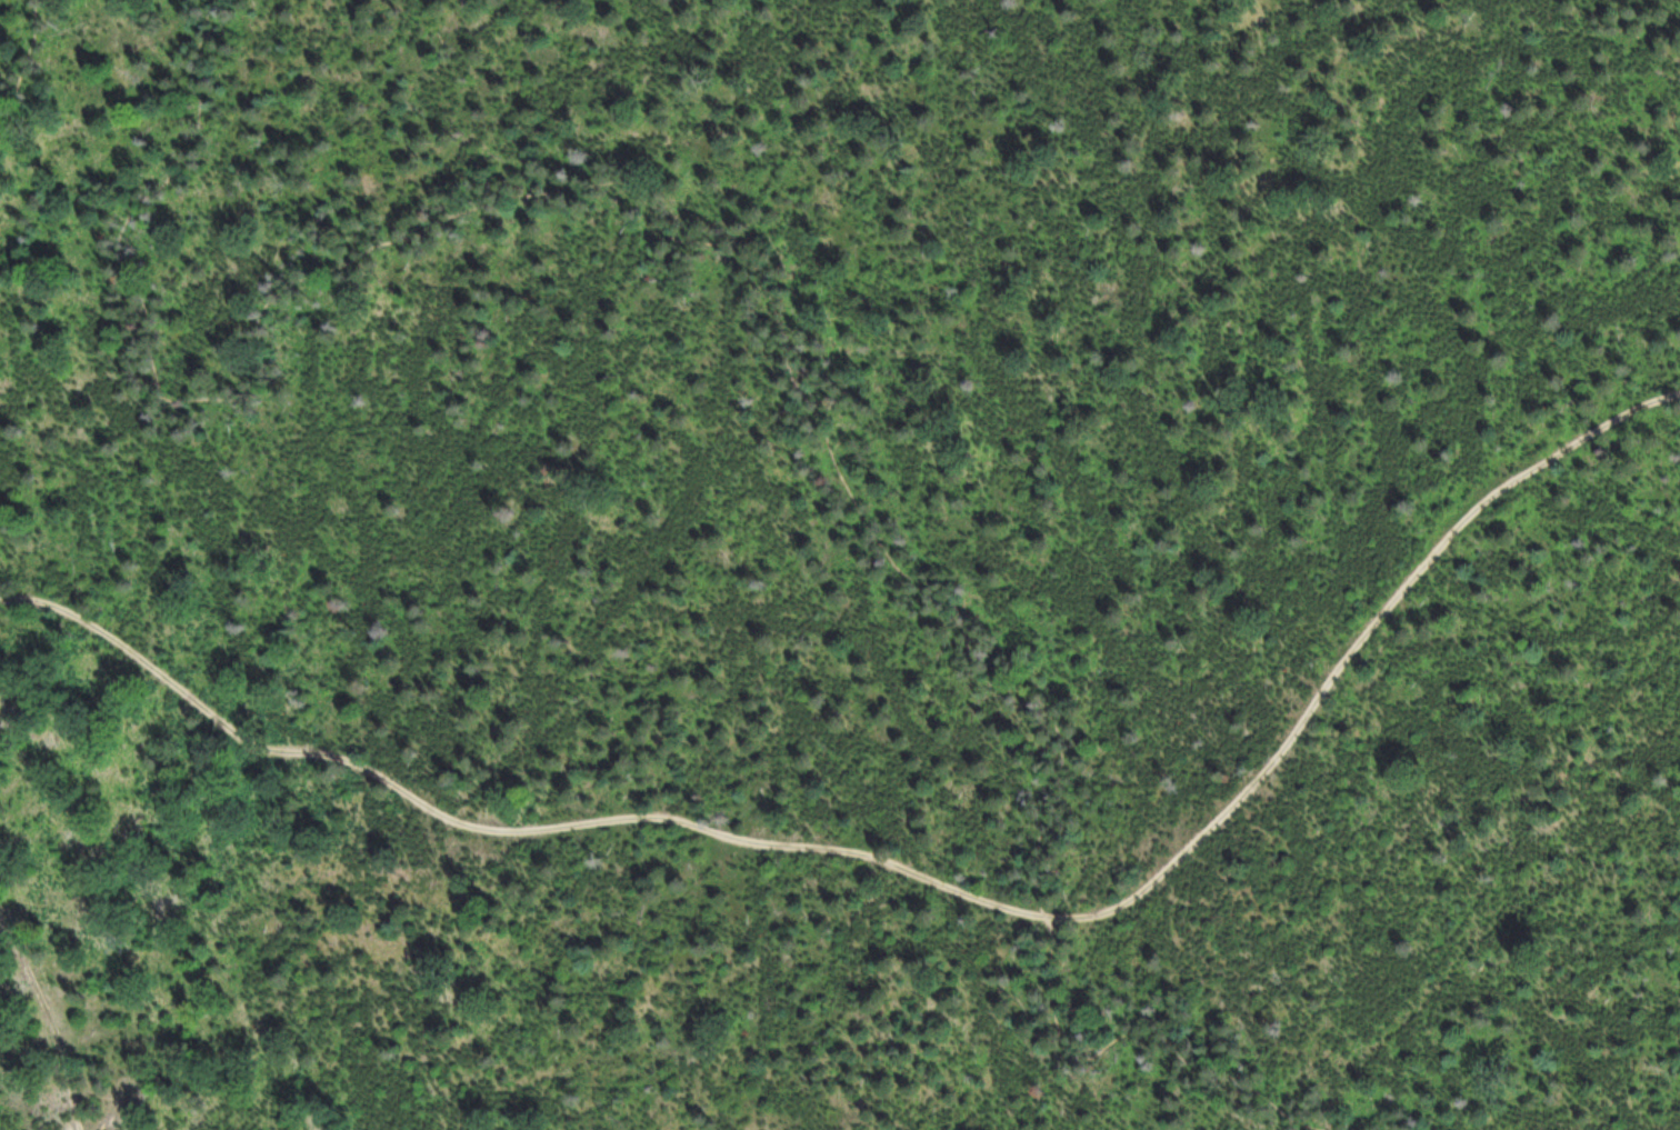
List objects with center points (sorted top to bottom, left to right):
road: (29, 62)
road: (772, 271)
road: (912, 870)
road: (51, 1020)

